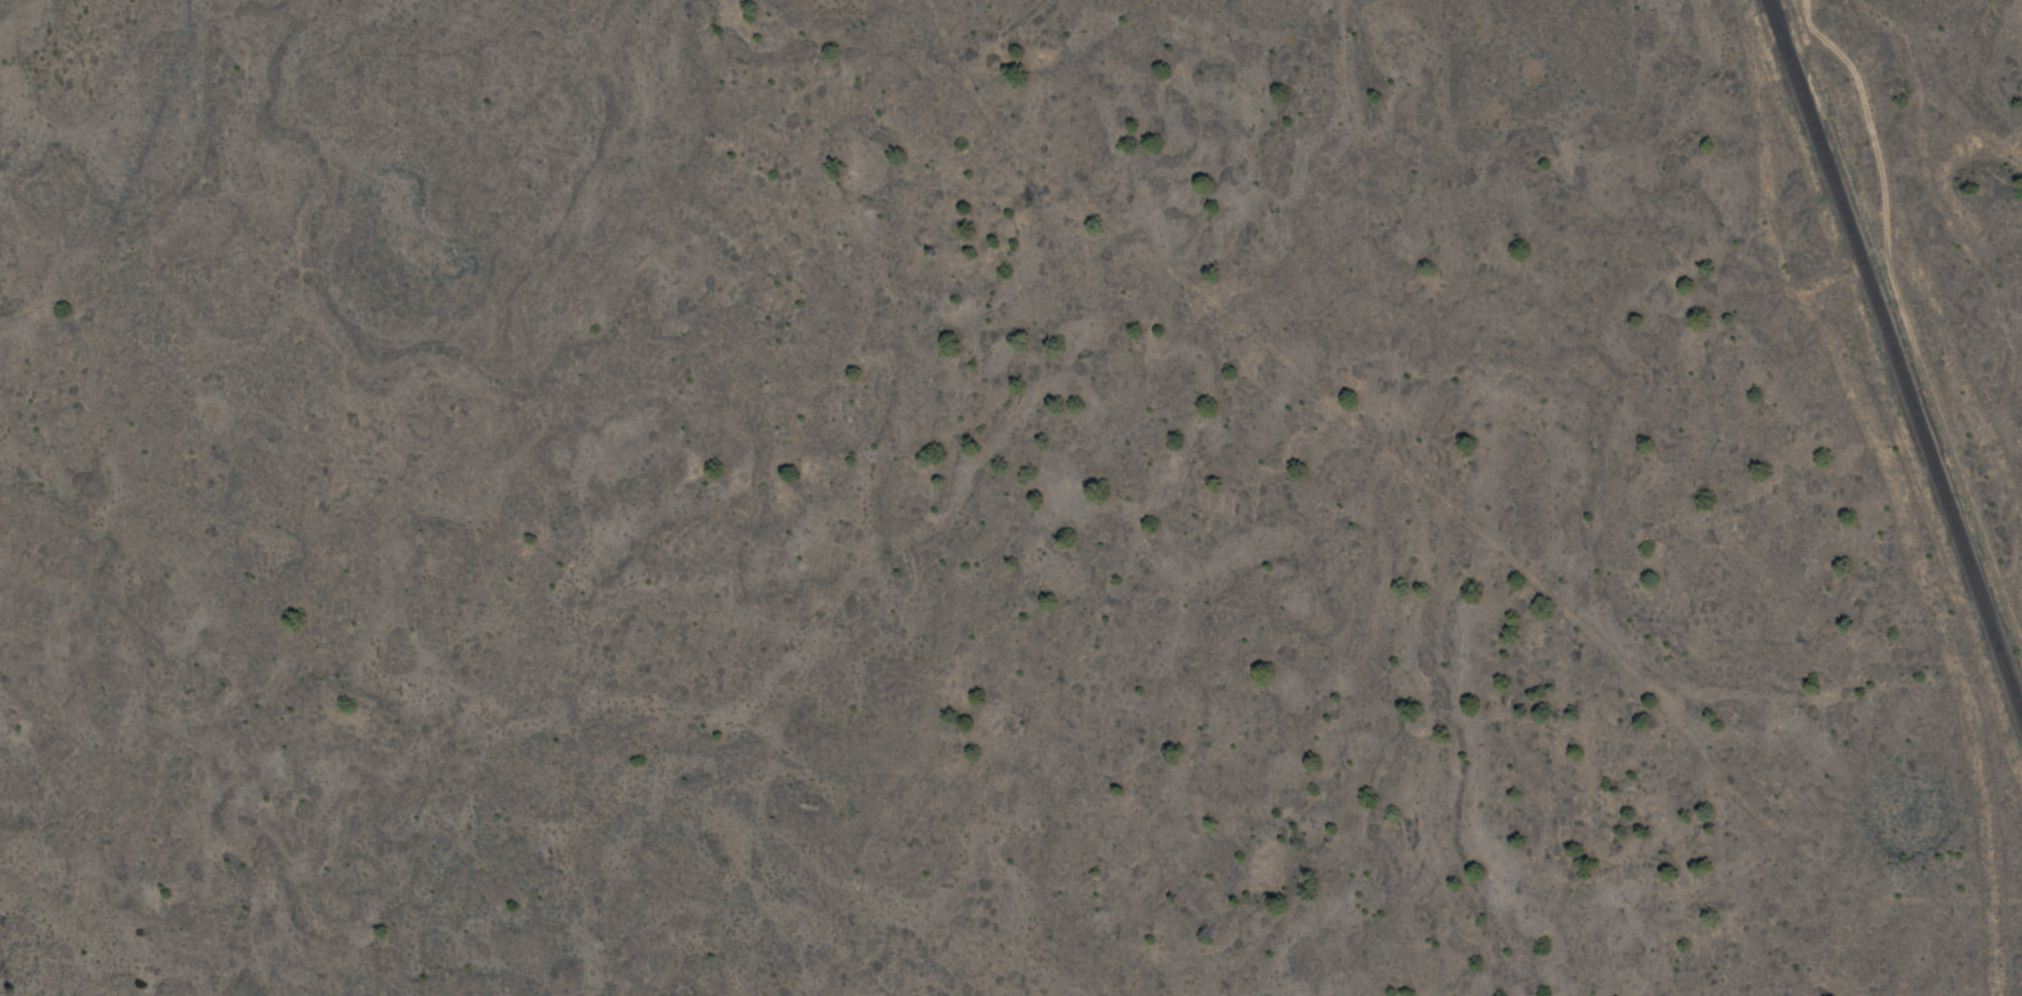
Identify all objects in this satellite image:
railway: (1894, 359)

